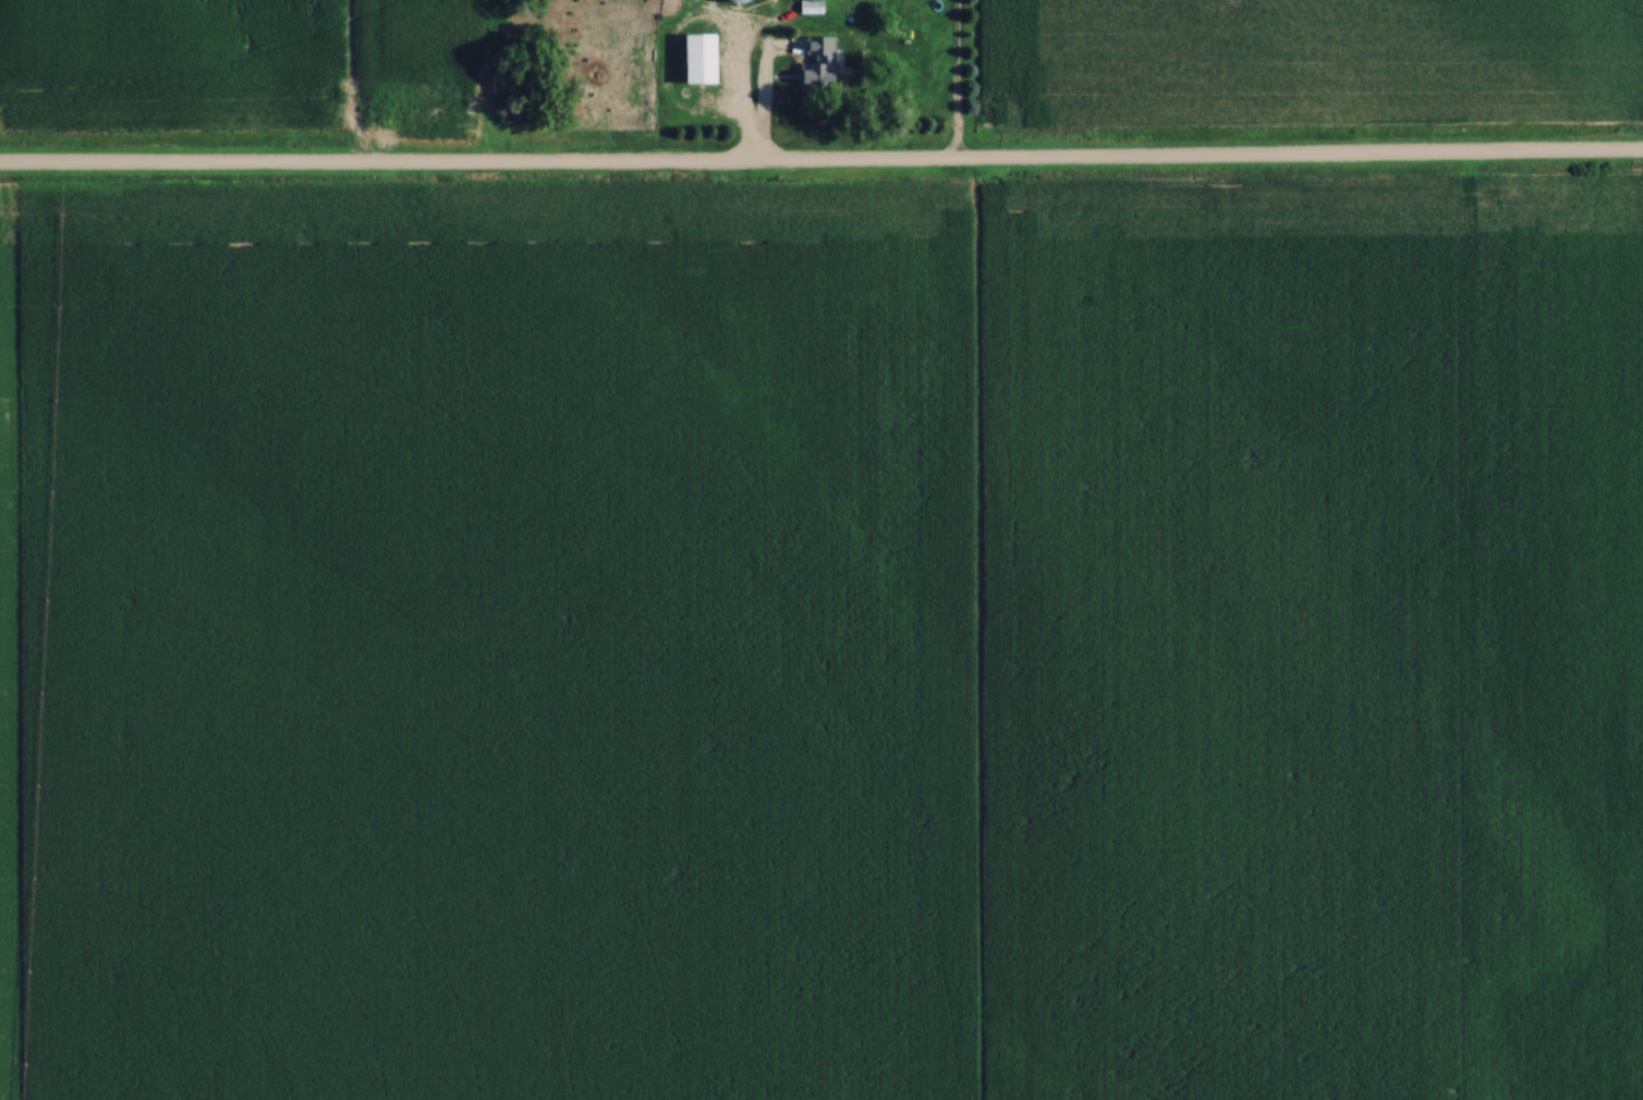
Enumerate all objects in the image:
building: (772, 0)
building: (702, 60)
building: (819, 64)
road: (821, 171)

